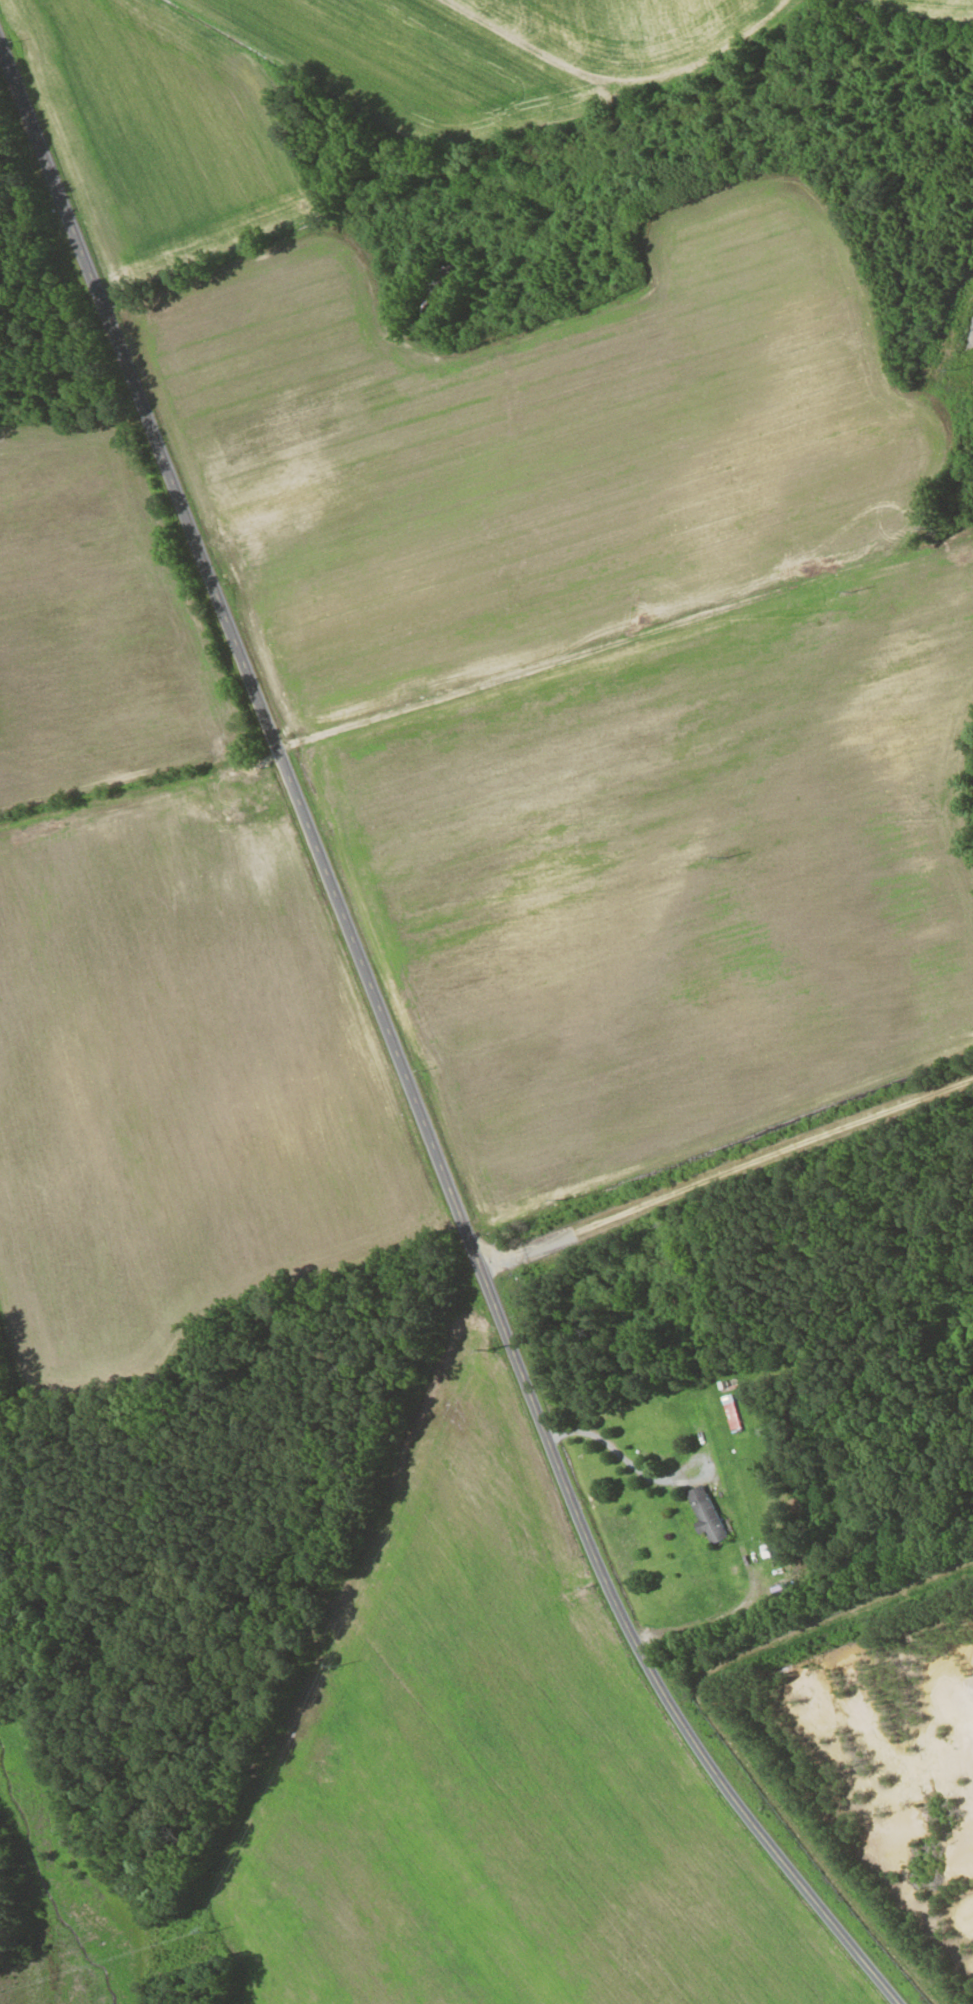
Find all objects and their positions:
road: (389, 1074)
building: (732, 1413)
building: (707, 1514)

